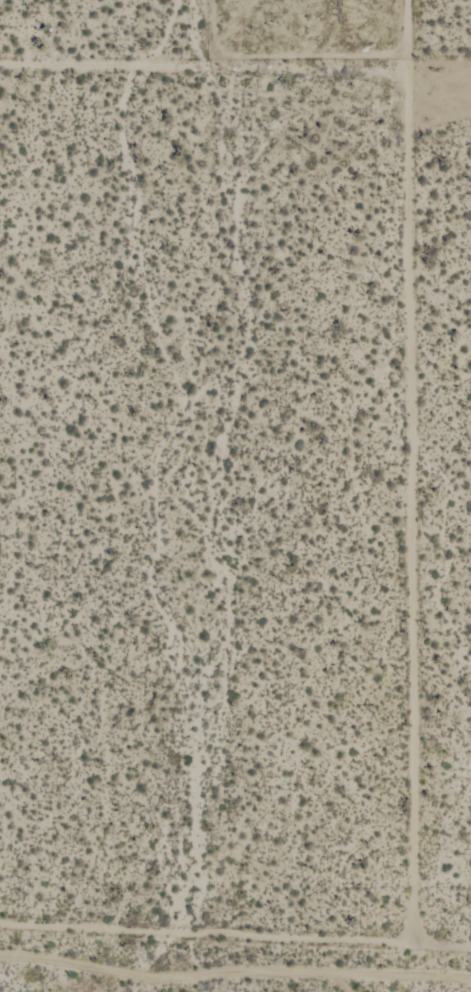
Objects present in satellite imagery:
road: (234, 973)

